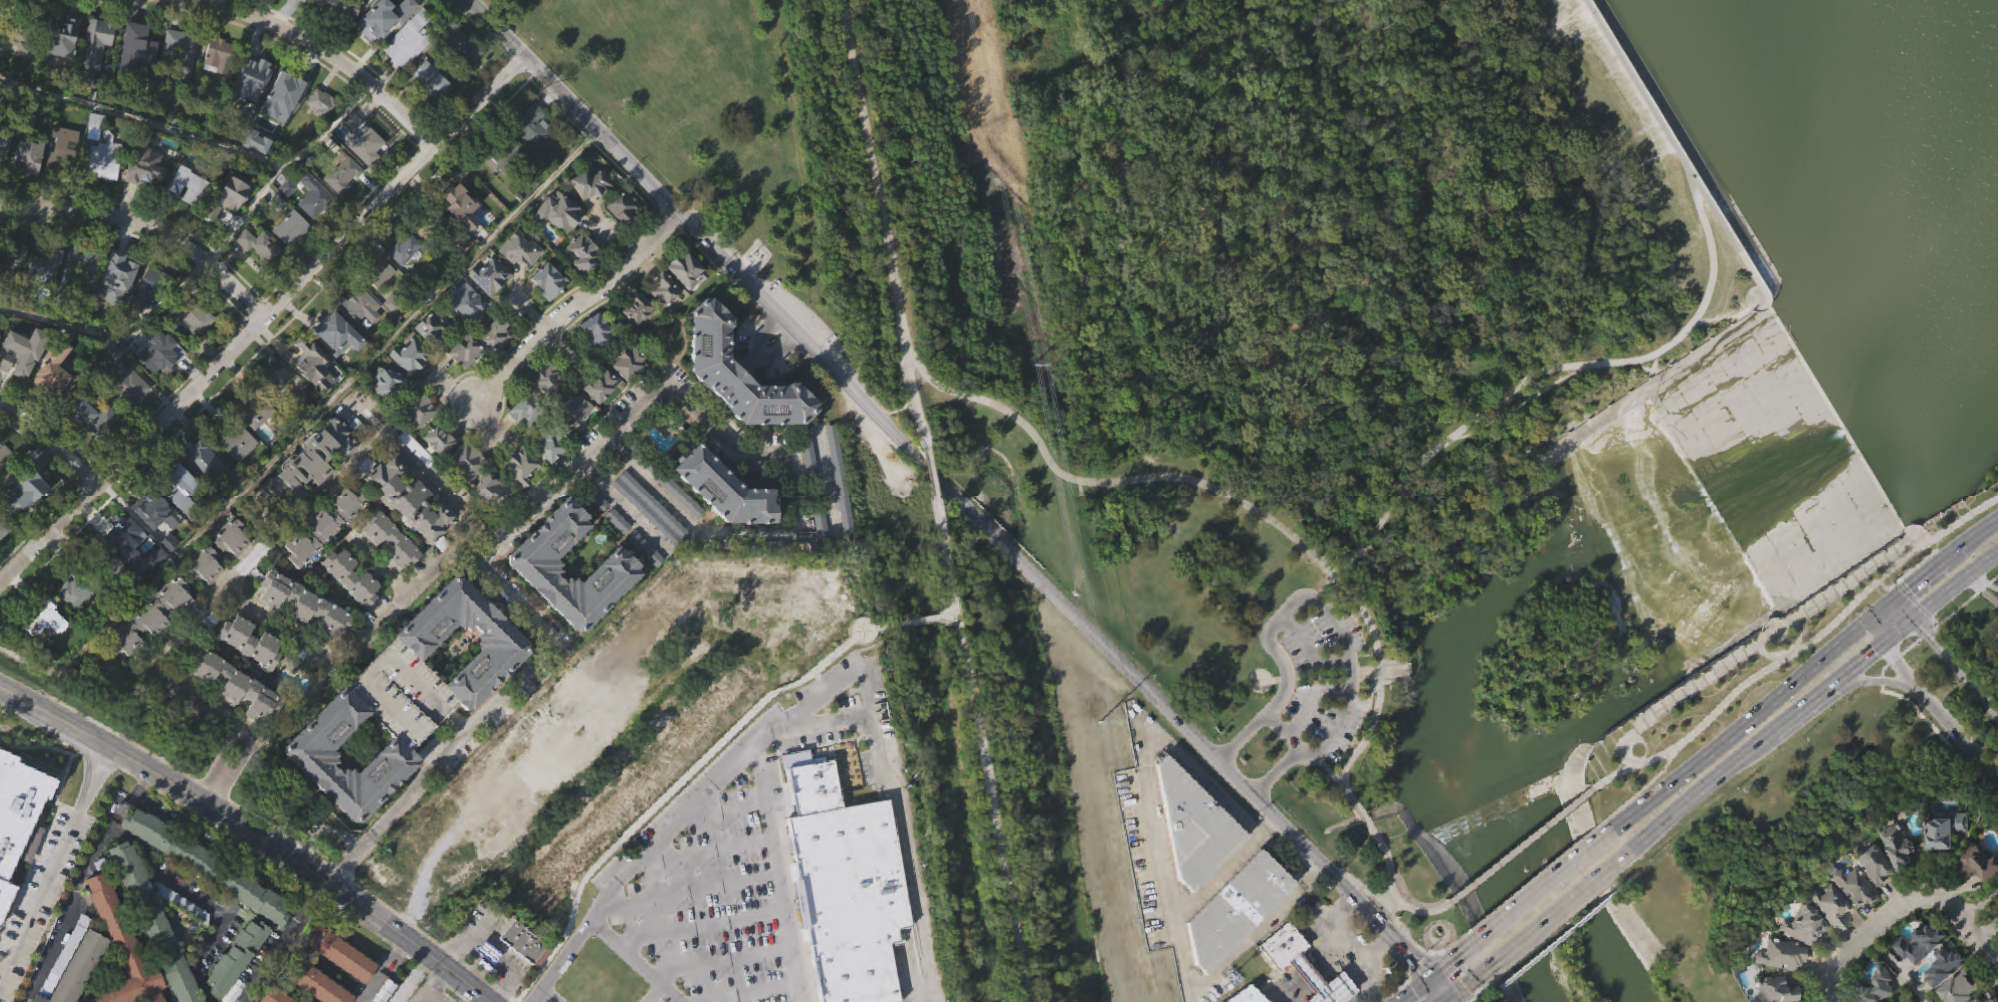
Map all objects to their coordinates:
road: (217, 1)
building: (328, 7)
building: (4, 8)
building: (401, 10)
building: (288, 12)
building: (371, 23)
building: (27, 24)
building: (337, 31)
building: (99, 32)
building: (59, 37)
building: (142, 40)
building: (406, 40)
building: (384, 44)
building: (458, 48)
building: (181, 49)
building: (27, 51)
road: (327, 53)
building: (216, 56)
building: (63, 65)
building: (408, 68)
building: (459, 69)
building: (95, 74)
building: (136, 74)
building: (25, 75)
building: (180, 78)
building: (428, 78)
building: (247, 79)
building: (218, 83)
building: (283, 95)
building: (321, 103)
building: (250, 107)
building: (430, 107)
building: (282, 124)
building: (92, 125)
building: (529, 125)
building: (322, 132)
building: (360, 138)
building: (3, 139)
road: (197, 140)
building: (59, 150)
building: (499, 151)
building: (530, 153)
building: (24, 158)
building: (100, 158)
building: (145, 163)
building: (4, 171)
building: (341, 174)
building: (366, 174)
road: (872, 174)
building: (61, 175)
building: (503, 181)
building: (105, 182)
building: (586, 182)
building: (27, 184)
building: (183, 187)
building: (147, 193)
building: (225, 196)
building: (315, 199)
building: (343, 202)
building: (458, 204)
building: (620, 206)
building: (558, 210)
building: (590, 212)
road: (1715, 216)
building: (229, 223)
building: (315, 226)
road: (146, 228)
building: (289, 228)
building: (460, 234)
building: (623, 234)
building: (557, 240)
building: (258, 245)
building: (403, 248)
building: (517, 248)
building: (581, 253)
building: (290, 254)
building: (11, 256)
building: (85, 261)
building: (685, 267)
building: (41, 268)
building: (378, 272)
building: (487, 272)
building: (260, 273)
building: (115, 274)
building: (404, 276)
building: (521, 277)
building: (546, 279)
building: (584, 281)
building: (152, 282)
building: (14, 284)
building: (661, 287)
building: (86, 290)
building: (46, 292)
building: (60, 294)
building: (685, 297)
building: (380, 301)
building: (490, 304)
building: (356, 305)
building: (466, 305)
road: (566, 305)
building: (115, 306)
building: (549, 308)
building: (635, 308)
building: (148, 315)
building: (191, 315)
building: (662, 316)
road: (260, 319)
building: (327, 325)
building: (429, 328)
building: (594, 330)
road: (112, 332)
building: (467, 332)
parking lot: (816, 332)
building: (494, 333)
building: (359, 336)
road: (760, 337)
building: (195, 343)
building: (462, 349)
park: (1385, 349)
building: (160, 353)
building: (409, 354)
road: (777, 354)
building: (432, 355)
road: (1651, 356)
building: (595, 358)
building: (16, 361)
building: (336, 361)
building: (626, 361)
building: (496, 362)
building: (311, 363)
road: (749, 366)
power tower: (1033, 366)
building: (49, 369)
building: (737, 370)
building: (273, 376)
building: (542, 377)
building: (114, 378)
building: (465, 378)
building: (159, 379)
building: (20, 381)
building: (386, 382)
building: (128, 384)
building: (410, 384)
building: (596, 384)
road: (731, 384)
building: (629, 391)
road: (913, 391)
building: (314, 392)
building: (53, 397)
road: (905, 399)
road: (333, 400)
building: (276, 401)
building: (738, 402)
building: (569, 405)
building: (544, 406)
building: (414, 407)
building: (251, 408)
building: (522, 409)
road: (708, 409)
building: (386, 410)
building: (126, 411)
building: (599, 412)
building: (93, 415)
building: (572, 434)
building: (419, 437)
building: (233, 438)
building: (436, 438)
building: (524, 438)
building: (549, 443)
building: (96, 444)
road: (51, 446)
building: (4, 453)
building: (199, 460)
building: (464, 460)
building: (308, 462)
road: (927, 462)
building: (520, 465)
building: (438, 467)
building: (238, 471)
building: (550, 474)
road: (1108, 480)
building: (4, 486)
parking lot: (670, 486)
building: (200, 487)
building: (809, 487)
building: (467, 488)
building: (313, 489)
building: (489, 489)
building: (724, 489)
road: (949, 489)
building: (183, 492)
building: (22, 493)
building: (521, 493)
road: (615, 498)
building: (407, 499)
building: (148, 509)
parking lot: (650, 509)
building: (841, 509)
building: (182, 516)
building: (28, 517)
building: (491, 517)
building: (725, 518)
building: (680, 523)
building: (322, 527)
parking lot: (622, 527)
building: (410, 528)
building: (2, 530)
building: (598, 530)
road: (776, 534)
building: (124, 536)
building: (227, 537)
building: (651, 537)
building: (156, 540)
building: (387, 540)
building: (619, 550)
building: (822, 553)
building: (326, 554)
building: (3, 559)
road: (1948, 560)
building: (528, 563)
building: (125, 565)
building: (199, 565)
building: (231, 565)
building: (392, 568)
building: (107, 569)
building: (350, 577)
building: (646, 578)
road: (1986, 582)
road: (1882, 585)
road: (1957, 588)
road: (1324, 590)
building: (205, 594)
building: (75, 595)
building: (536, 596)
road: (509, 599)
building: (301, 603)
building: (354, 606)
road: (1908, 606)
road: (1883, 608)
road: (1327, 612)
building: (44, 616)
road: (950, 616)
building: (149, 618)
building: (752, 618)
building: (76, 620)
road: (1791, 620)
road: (379, 621)
road: (912, 623)
road: (1936, 626)
road: (1901, 631)
building: (305, 632)
road: (1876, 633)
traffic signals: (1933, 637)
building: (248, 641)
building: (510, 641)
building: (816, 641)
building: (154, 643)
building: (47, 647)
road: (1797, 649)
road: (1946, 652)
traffic signals: (1874, 653)
road: (1309, 654)
building: (638, 665)
road: (33, 669)
building: (253, 669)
building: (505, 674)
road: (1321, 678)
road: (23, 681)
road: (834, 686)
building: (233, 688)
building: (293, 691)
road: (1845, 691)
parking lot: (1327, 692)
building: (408, 694)
parking garage: (408, 694)
road: (1987, 699)
road: (1311, 701)
road: (1940, 712)
power tower: (1103, 716)
building: (242, 717)
road: (849, 719)
road: (1744, 722)
road: (460, 727)
park: (935, 733)
road: (123, 737)
road: (1287, 737)
road: (1763, 743)
road: (983, 745)
road: (49, 747)
building: (316, 754)
road: (1350, 763)
road: (581, 766)
road: (1329, 773)
road: (86, 776)
road: (96, 781)
road: (63, 785)
road: (143, 786)
building: (314, 786)
building: (515, 789)
road: (674, 790)
road: (214, 791)
road: (1633, 797)
road: (727, 810)
building: (635, 816)
building: (20, 817)
road: (263, 822)
building: (1195, 828)
building: (1947, 833)
road: (250, 834)
road: (346, 837)
road: (1164, 843)
road: (1520, 847)
building: (1899, 847)
park: (329, 848)
road: (305, 849)
road: (709, 852)
road: (221, 855)
road: (331, 858)
road: (320, 859)
building: (1944, 862)
building: (1877, 866)
road: (1229, 867)
building: (1981, 867)
building: (202, 868)
road: (279, 868)
building: (430, 868)
road: (340, 873)
road: (778, 874)
road: (30, 875)
building: (1897, 878)
road: (1532, 879)
road: (147, 880)
road: (1549, 882)
building: (844, 887)
building: (1856, 889)
building: (201, 890)
road: (689, 892)
road: (1369, 893)
road: (39, 896)
road: (76, 896)
building: (1875, 896)
building: (1977, 896)
road: (316, 897)
road: (377, 898)
road: (230, 901)
road: (203, 903)
road: (89, 905)
parking lot: (708, 907)
building: (1831, 907)
road: (124, 909)
fountain: (177, 910)
building: (1235, 911)
road: (1986, 912)
road: (1888, 915)
road: (1552, 916)
road: (1393, 917)
building: (1854, 919)
road: (407, 920)
road: (1323, 921)
building: (113, 926)
road: (701, 928)
building: (1804, 928)
road: (275, 930)
building: (184, 931)
road: (428, 936)
road: (581, 936)
road: (1986, 936)
building: (1829, 937)
building: (1921, 946)
road: (7, 947)
building: (1284, 947)
road: (175, 949)
building: (519, 950)
road: (449, 951)
road: (1187, 952)
road: (1370, 952)
road: (1442, 952)
road: (317, 953)
building: (336, 954)
road: (275, 955)
road: (1459, 955)
building: (1782, 957)
building: (1803, 958)
building: (485, 959)
gas station: (485, 959)
road: (149, 961)
road: (1333, 961)
road: (632, 962)
road: (722, 962)
road: (333, 963)
building: (74, 964)
building: (235, 964)
traffic signals: (1419, 964)
building: (1946, 967)
road: (276, 968)
road: (1896, 968)
road: (3, 969)
building: (523, 970)
traffic signals: (1442, 970)
road: (383, 971)
road: (96, 972)
road: (477, 972)
road: (1437, 973)
road: (191, 974)
building: (1920, 975)
road: (351, 976)
fountain: (103, 977)
building: (339, 980)
road: (415, 980)
building: (1283, 980)
building: (87, 981)
building: (489, 981)
road: (276, 982)
building: (311, 982)
road: (292, 983)
building: (1322, 984)
gas station: (1322, 984)
road: (437, 985)
road: (544, 986)
road: (104, 988)
road: (302, 988)
building: (1964, 988)
road: (301, 989)
building: (1875, 989)
road: (1415, 990)
road: (1439, 990)
building: (1775, 991)
road: (361, 992)
road: (364, 993)
road: (753, 993)
road: (505, 994)
road: (668, 994)
road: (160, 996)
road: (163, 996)
building: (272, 996)
building: (1247, 996)
road: (1454, 996)
road: (37, 997)
building: (308, 997)
road: (538, 997)
road: (547, 997)
road: (1362, 998)
building: (34, 1000)
road: (82, 1000)
road: (429, 1000)
road: (251, 1001)
road: (514, 1001)
building: (1997, 1001)

